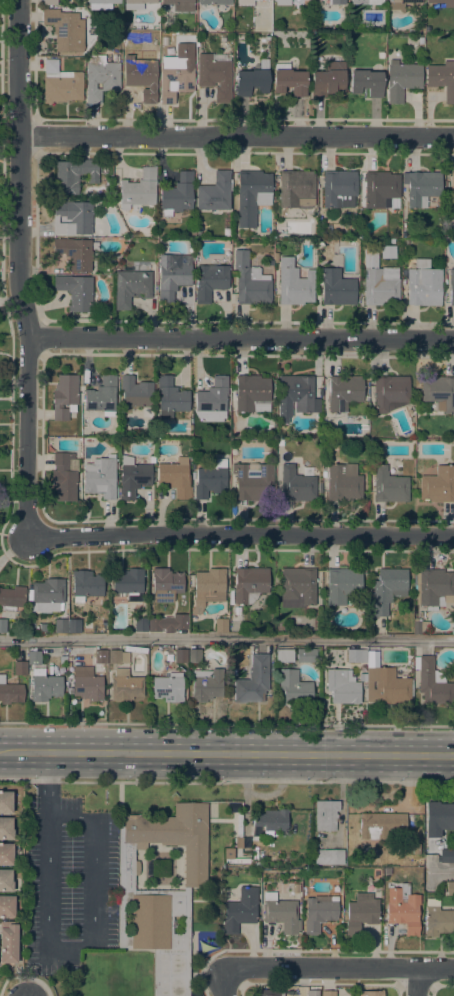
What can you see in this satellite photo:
building: (336, 1)
building: (49, 2)
building: (214, 2)
building: (244, 2)
building: (282, 2)
building: (367, 2)
building: (443, 2)
building: (101, 4)
building: (136, 4)
building: (399, 4)
building: (180, 5)
building: (352, 26)
building: (65, 30)
building: (381, 40)
building: (420, 40)
building: (380, 55)
building: (141, 74)
building: (214, 75)
building: (101, 76)
building: (329, 77)
building: (442, 78)
building: (175, 80)
building: (252, 80)
building: (289, 80)
building: (401, 80)
building: (366, 82)
building: (60, 83)
road: (238, 137)
building: (74, 174)
building: (380, 188)
building: (422, 188)
building: (296, 189)
building: (339, 189)
building: (451, 190)
building: (138, 191)
building: (215, 193)
building: (177, 195)
building: (251, 196)
building: (72, 218)
building: (389, 242)
building: (405, 242)
building: (387, 252)
building: (74, 253)
building: (275, 258)
building: (270, 263)
road: (20, 269)
building: (173, 274)
building: (210, 281)
building: (250, 281)
building: (379, 282)
building: (294, 284)
building: (423, 284)
building: (451, 286)
building: (131, 287)
building: (336, 287)
building: (76, 292)
road: (243, 338)
building: (134, 392)
building: (344, 392)
building: (439, 392)
building: (252, 393)
building: (390, 393)
building: (296, 396)
building: (64, 397)
building: (102, 397)
building: (170, 398)
building: (212, 399)
building: (280, 442)
building: (453, 442)
building: (152, 459)
building: (100, 477)
building: (175, 477)
building: (64, 478)
building: (133, 478)
building: (210, 479)
building: (252, 482)
building: (343, 483)
building: (296, 485)
building: (438, 485)
building: (320, 486)
building: (389, 486)
road: (241, 537)
building: (129, 583)
building: (249, 584)
building: (86, 585)
building: (166, 585)
building: (342, 585)
building: (297, 587)
building: (208, 588)
building: (434, 588)
building: (388, 589)
building: (48, 594)
building: (12, 598)
building: (168, 623)
building: (141, 625)
building: (221, 625)
building: (3, 626)
building: (60, 626)
building: (73, 626)
building: (420, 627)
building: (453, 631)
road: (227, 639)
building: (194, 655)
building: (308, 655)
building: (356, 655)
building: (180, 656)
building: (284, 656)
building: (34, 657)
building: (100, 657)
building: (117, 657)
building: (63, 660)
building: (20, 668)
building: (233, 672)
building: (362, 678)
building: (253, 681)
building: (432, 682)
building: (88, 683)
building: (385, 684)
building: (44, 685)
building: (206, 685)
building: (125, 686)
building: (168, 687)
building: (294, 687)
building: (342, 687)
building: (10, 692)
road: (227, 724)
road: (227, 753)
road: (226, 782)
road: (48, 784)
building: (5, 802)
building: (325, 815)
building: (437, 819)
building: (271, 820)
building: (379, 825)
building: (5, 828)
building: (238, 842)
building: (416, 849)
building: (6, 854)
building: (446, 856)
building: (232, 857)
building: (328, 857)
building: (257, 864)
building: (160, 868)
road: (442, 871)
building: (5, 881)
building: (295, 887)
building: (449, 888)
building: (303, 891)
building: (161, 892)
building: (7, 906)
building: (402, 908)
building: (239, 911)
building: (319, 912)
building: (361, 912)
building: (280, 913)
building: (437, 919)
road: (88, 941)
building: (8, 942)
road: (341, 968)
road: (418, 982)
road: (226, 983)
building: (270, 992)
building: (313, 993)
building: (327, 993)
building: (370, 993)

